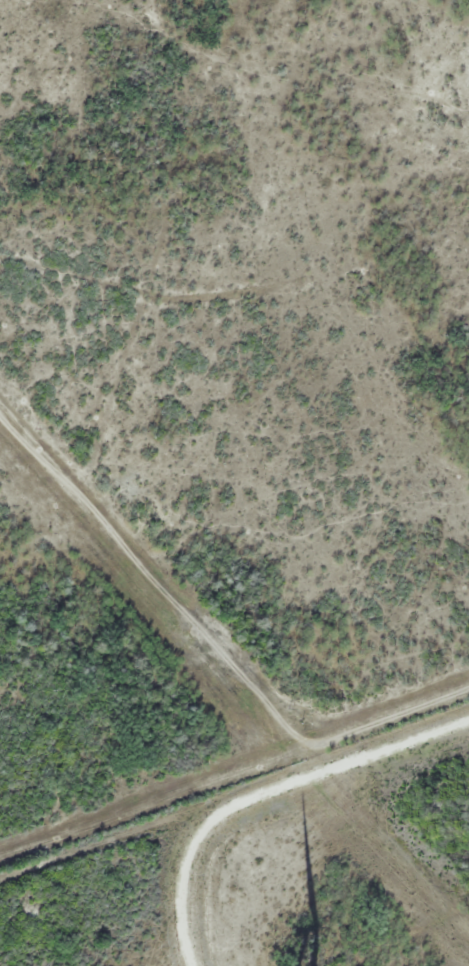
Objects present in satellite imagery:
road: (234, 825)

